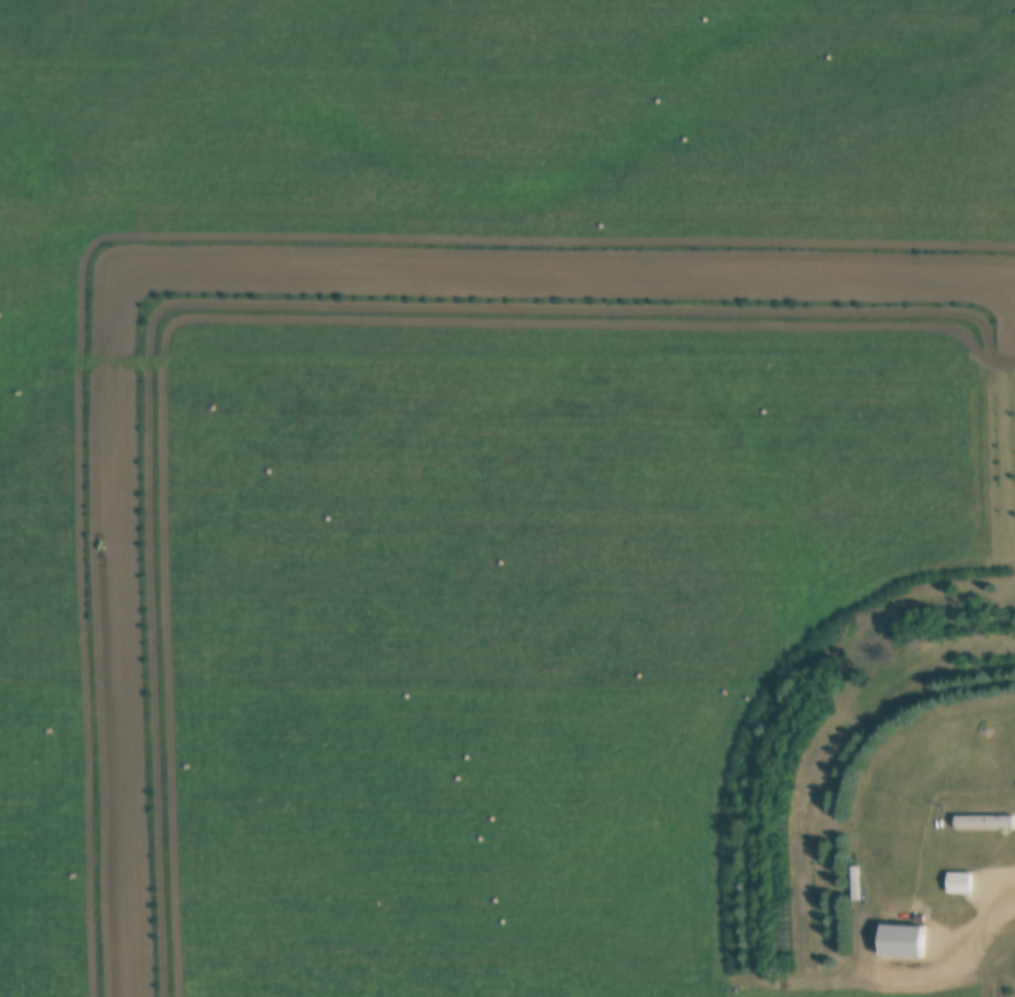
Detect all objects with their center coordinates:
building: (278, 710)
building: (222, 718)
building: (448, 782)
building: (985, 825)
building: (966, 883)
building: (445, 938)
road: (962, 949)

